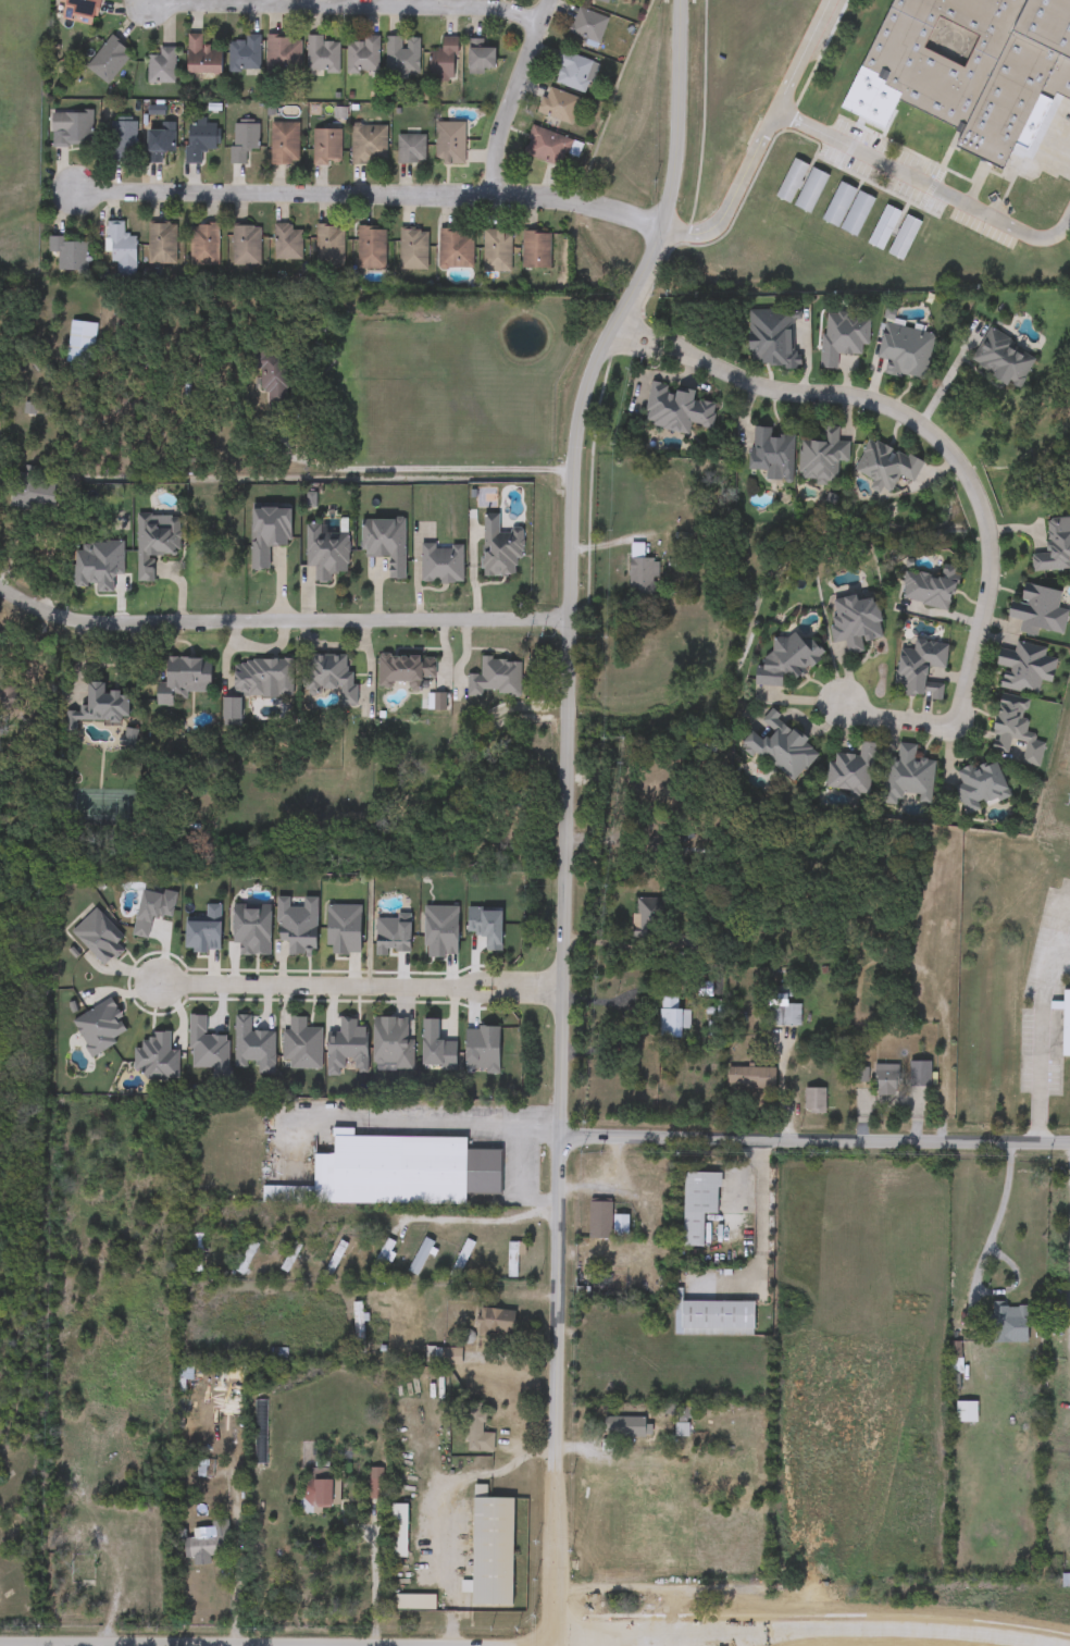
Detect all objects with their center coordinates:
building: (610, 1)
road: (350, 8)
building: (80, 11)
building: (587, 25)
building: (244, 53)
building: (283, 53)
building: (322, 54)
building: (362, 55)
building: (202, 57)
building: (402, 57)
building: (480, 58)
road: (812, 59)
building: (109, 60)
building: (444, 61)
building: (975, 65)
building: (161, 66)
building: (573, 73)
road: (519, 98)
building: (558, 106)
building: (72, 128)
building: (120, 139)
building: (199, 139)
building: (244, 140)
building: (284, 144)
building: (449, 144)
building: (159, 145)
building: (368, 145)
building: (326, 147)
building: (546, 147)
building: (410, 150)
building: (791, 181)
road: (929, 188)
building: (810, 191)
building: (1038, 195)
road: (369, 201)
road: (739, 201)
building: (1057, 201)
building: (838, 205)
building: (857, 214)
building: (883, 228)
building: (904, 238)
building: (287, 244)
building: (161, 245)
building: (203, 246)
building: (245, 246)
building: (328, 246)
building: (371, 248)
building: (456, 249)
building: (121, 250)
building: (412, 250)
building: (496, 250)
building: (535, 250)
building: (70, 253)
building: (772, 337)
building: (843, 338)
building: (80, 344)
building: (905, 352)
building: (1003, 358)
building: (271, 376)
building: (676, 410)
building: (772, 454)
building: (822, 458)
road: (966, 466)
building: (885, 467)
road: (427, 470)
building: (34, 488)
building: (267, 533)
building: (154, 544)
building: (385, 544)
building: (1055, 548)
building: (327, 550)
building: (501, 550)
road: (574, 556)
road: (474, 570)
building: (642, 578)
building: (929, 589)
building: (1040, 611)
road: (281, 619)
building: (856, 622)
building: (787, 661)
building: (1025, 668)
building: (921, 670)
building: (405, 671)
building: (327, 675)
building: (185, 677)
building: (262, 677)
building: (496, 679)
building: (100, 706)
building: (1015, 730)
building: (781, 748)
building: (851, 771)
building: (907, 779)
building: (981, 787)
building: (689, 875)
building: (650, 915)
building: (296, 925)
building: (251, 929)
road: (1059, 932)
road: (619, 942)
road: (361, 987)
building: (782, 1011)
building: (1063, 1018)
building: (671, 1019)
road: (1040, 1042)
building: (391, 1043)
building: (301, 1044)
building: (347, 1048)
building: (919, 1074)
building: (858, 1075)
building: (751, 1077)
building: (886, 1080)
road: (780, 1088)
building: (814, 1099)
road: (428, 1123)
road: (814, 1139)
building: (396, 1173)
road: (521, 1178)
building: (698, 1203)
road: (480, 1220)
building: (620, 1225)
road: (759, 1237)
building: (196, 1253)
building: (420, 1257)
building: (513, 1257)
building: (246, 1258)
building: (289, 1258)
building: (335, 1258)
building: (461, 1259)
building: (381, 1260)
road: (991, 1261)
building: (716, 1317)
building: (1008, 1319)
building: (496, 1323)
building: (358, 1327)
building: (955, 1358)
road: (555, 1389)
building: (966, 1412)
building: (623, 1427)
building: (475, 1431)
road: (527, 1457)
building: (204, 1469)
building: (375, 1489)
building: (319, 1494)
building: (206, 1508)
road: (451, 1538)
road: (235, 1552)
building: (492, 1552)
building: (79, 1569)
building: (1066, 1581)
road: (375, 1592)
building: (834, 1601)
building: (797, 1622)
building: (751, 1626)
road: (810, 1630)
road: (228, 1645)

